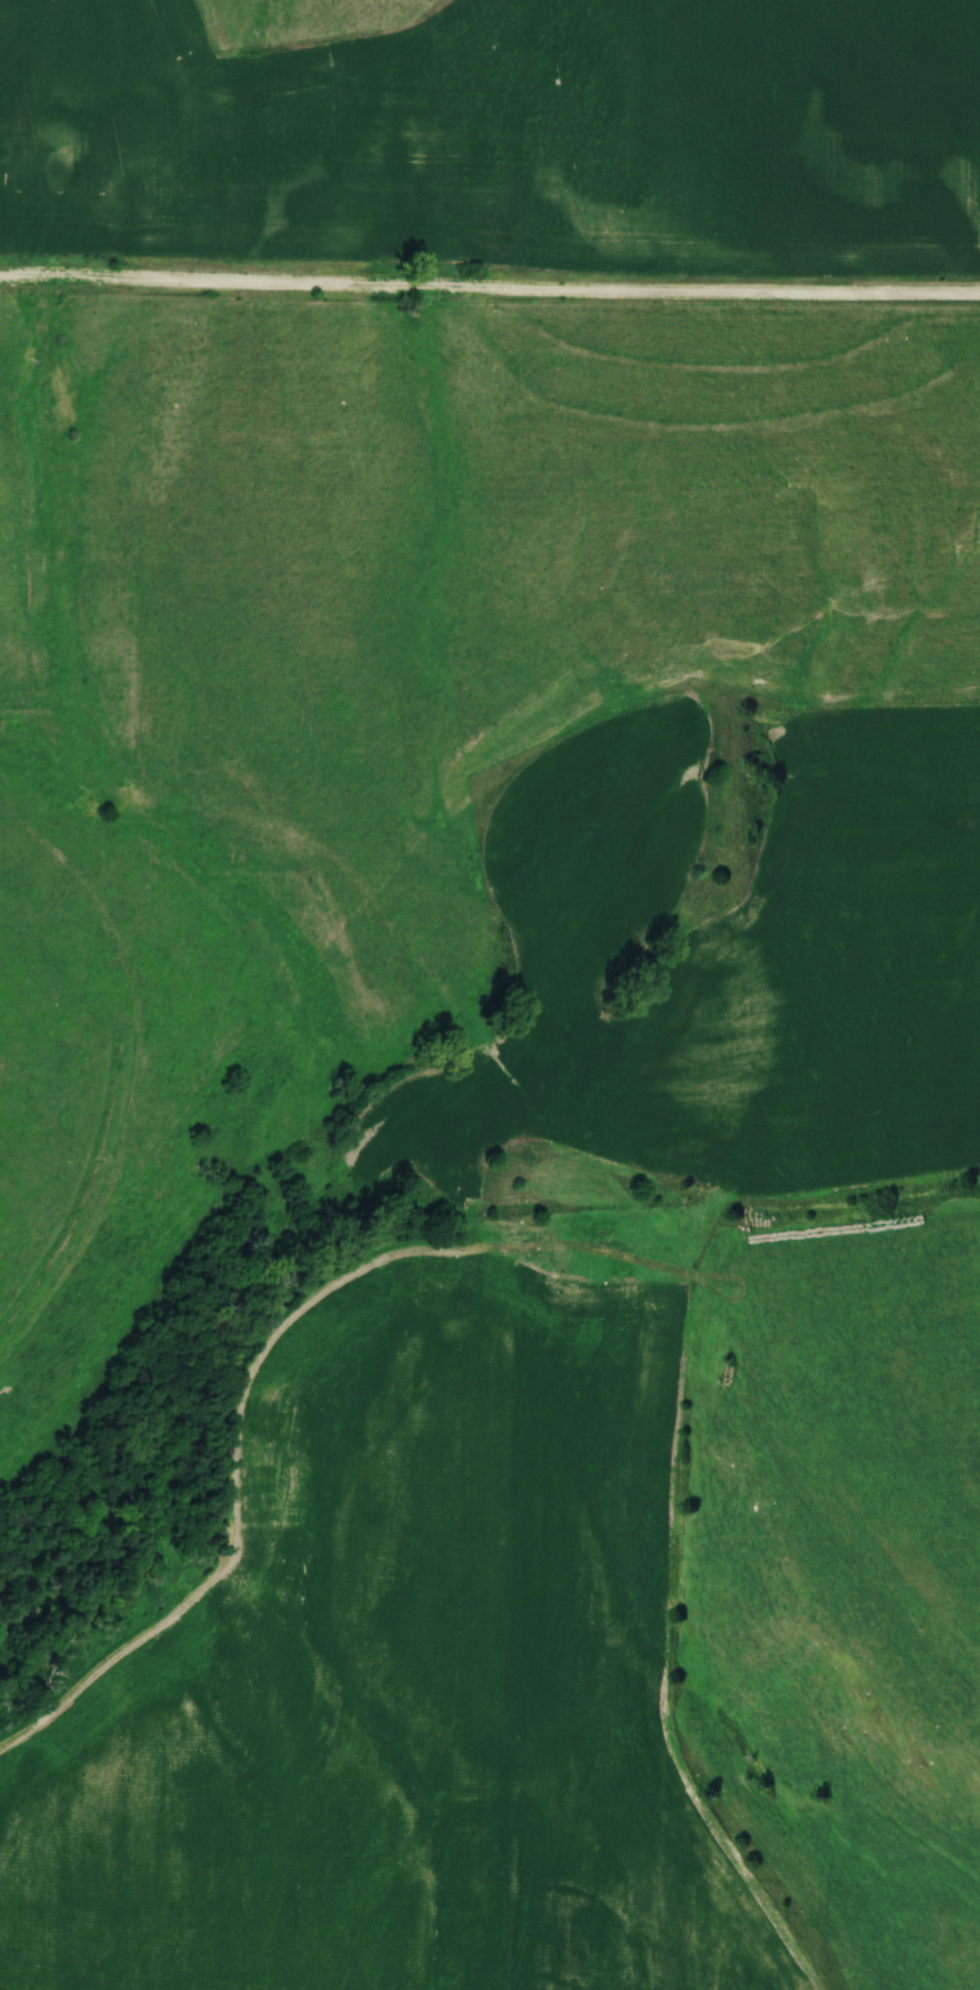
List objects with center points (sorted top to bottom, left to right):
road: (489, 287)

